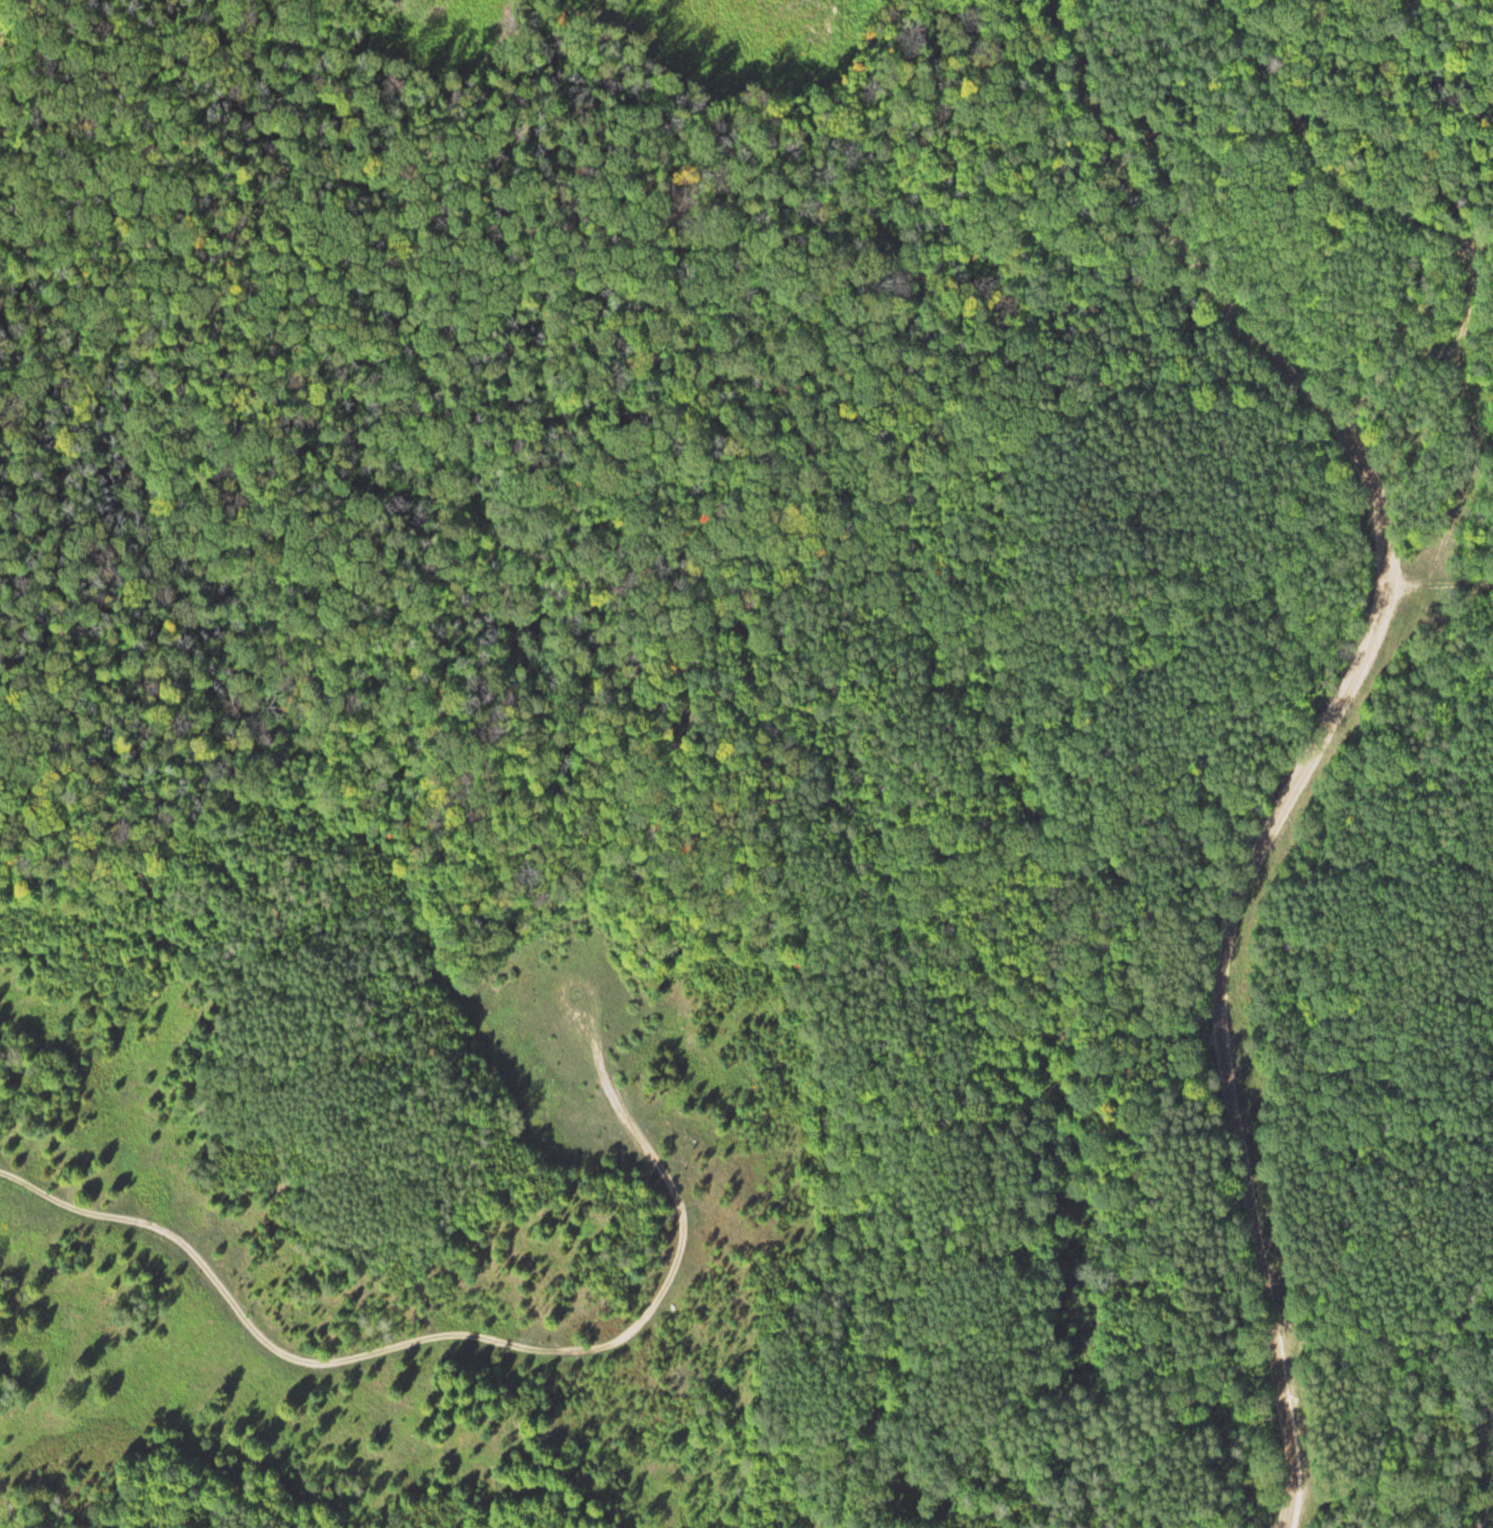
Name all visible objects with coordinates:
road: (1327, 719)
road: (423, 1343)

